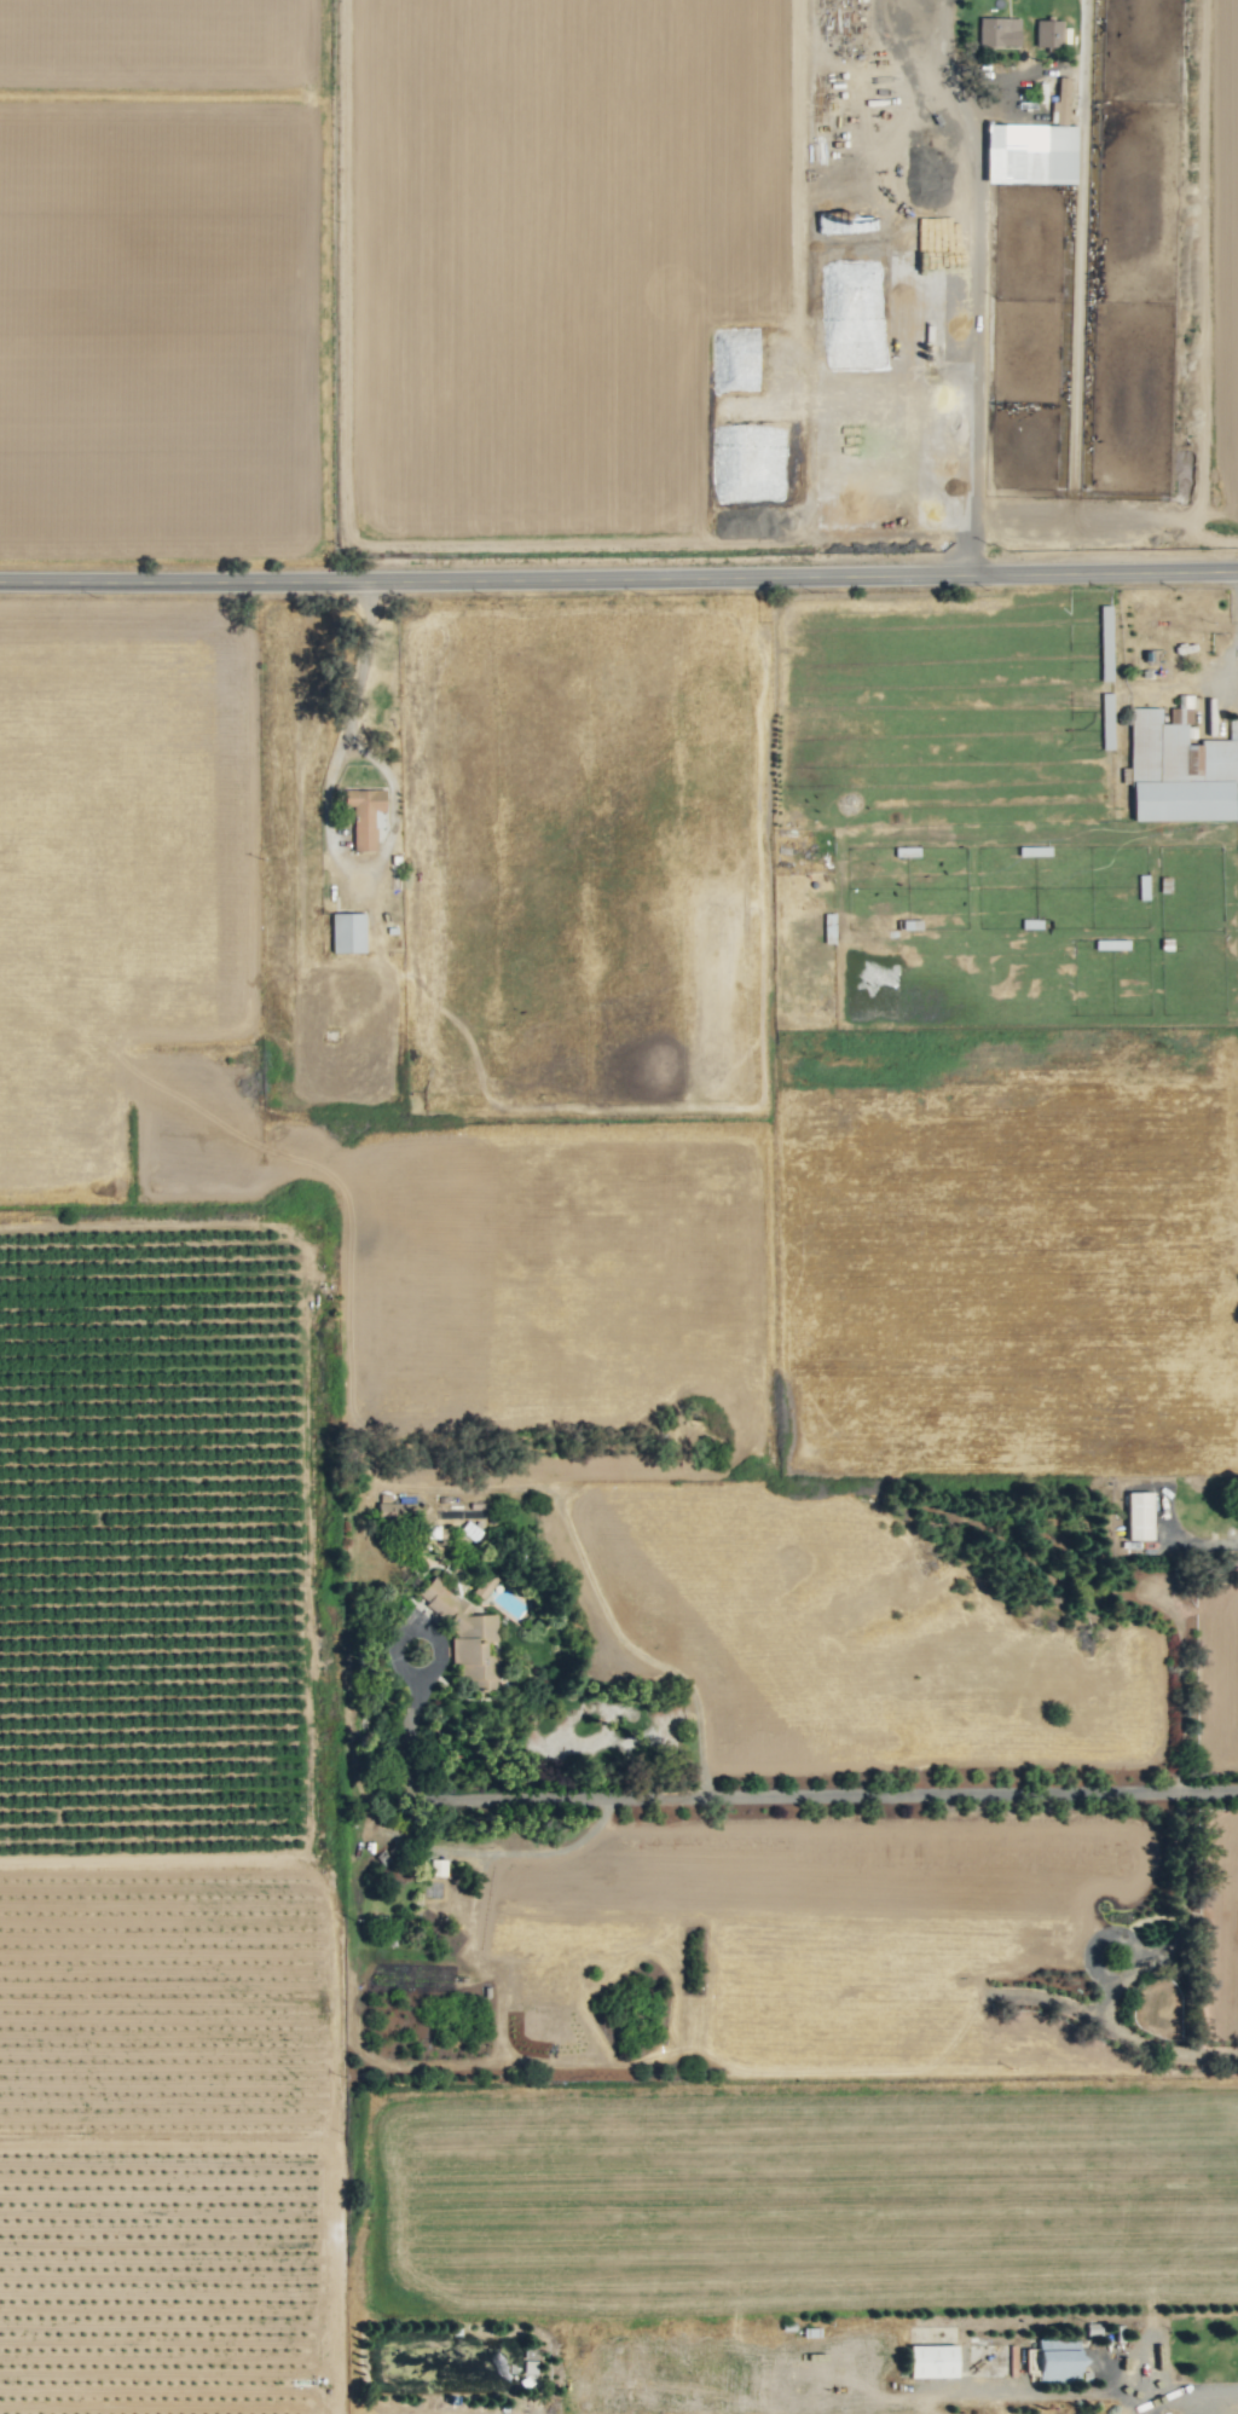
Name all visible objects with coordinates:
building: (999, 31)
building: (1048, 33)
building: (1034, 147)
road: (976, 282)
road: (619, 580)
road: (342, 712)
building: (1180, 768)
building: (364, 816)
building: (347, 932)
building: (395, 1512)
building: (1138, 1515)
building: (484, 1585)
building: (464, 1636)
road: (760, 1795)
building: (438, 1866)
building: (1058, 2358)
building: (932, 2361)
road: (1080, 2395)

